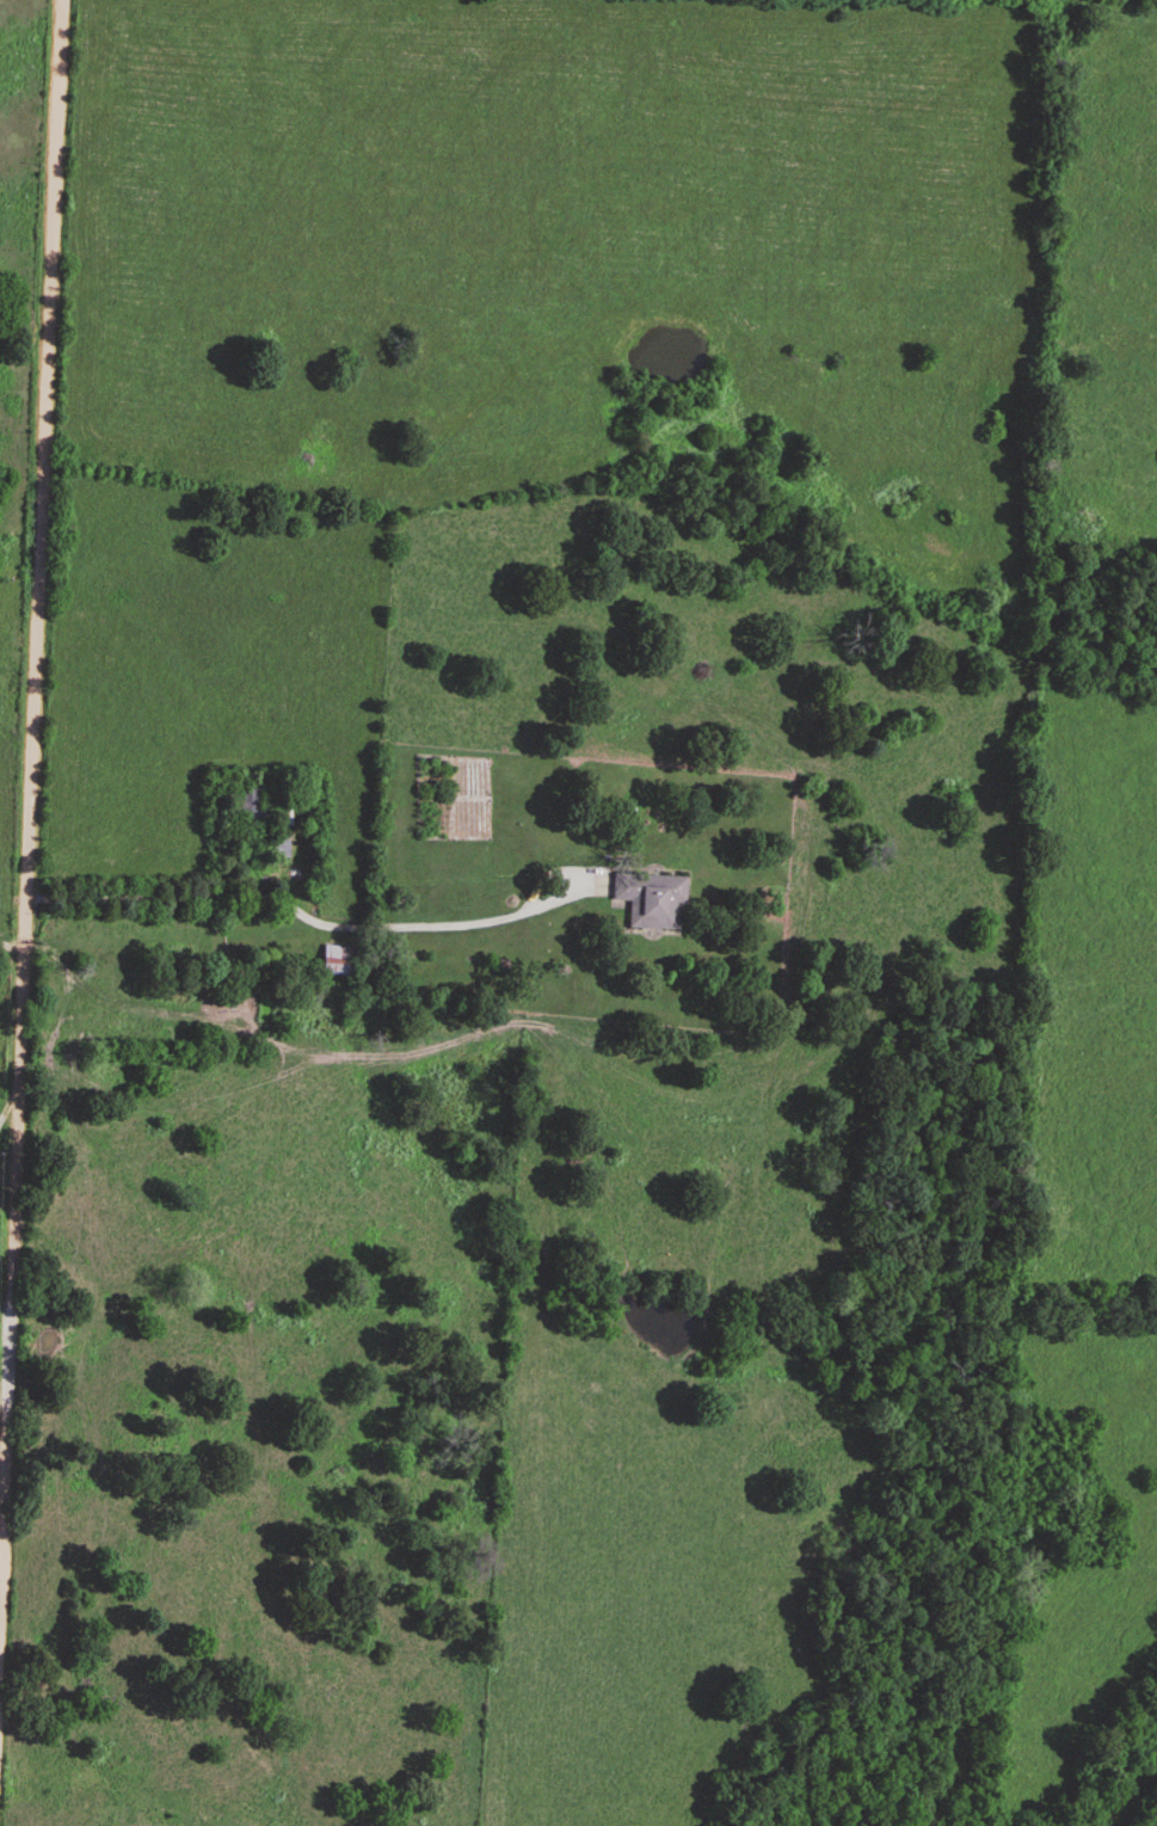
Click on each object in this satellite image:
building: (248, 814)
road: (29, 822)
building: (273, 850)
road: (160, 899)
building: (650, 903)
road: (444, 927)
road: (12, 953)
building: (336, 964)
road: (10, 1120)

